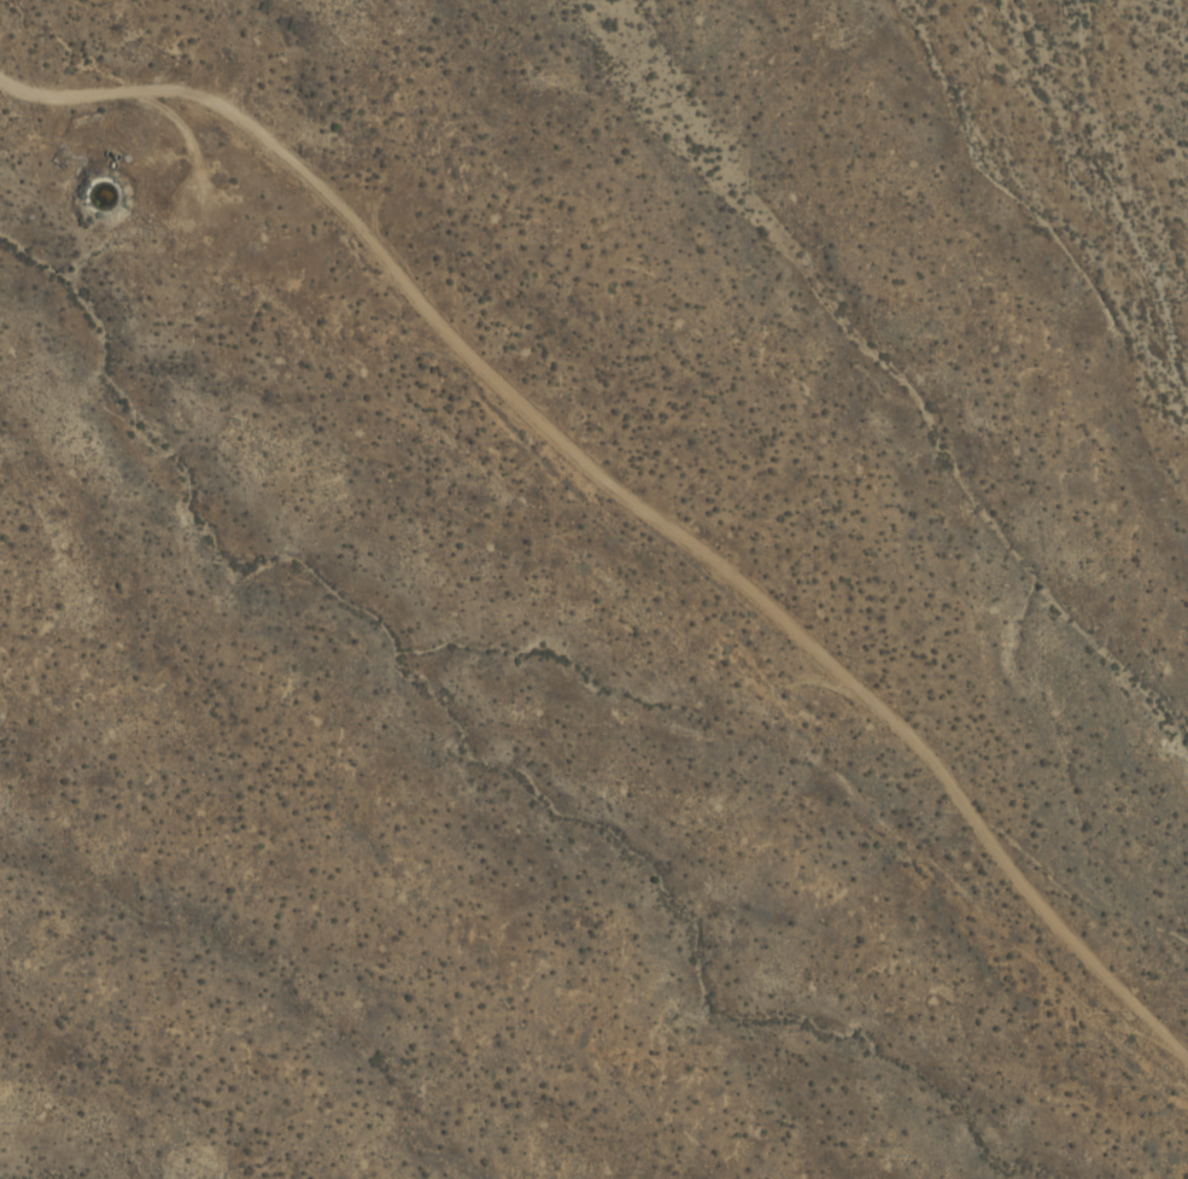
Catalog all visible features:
road: (619, 491)

